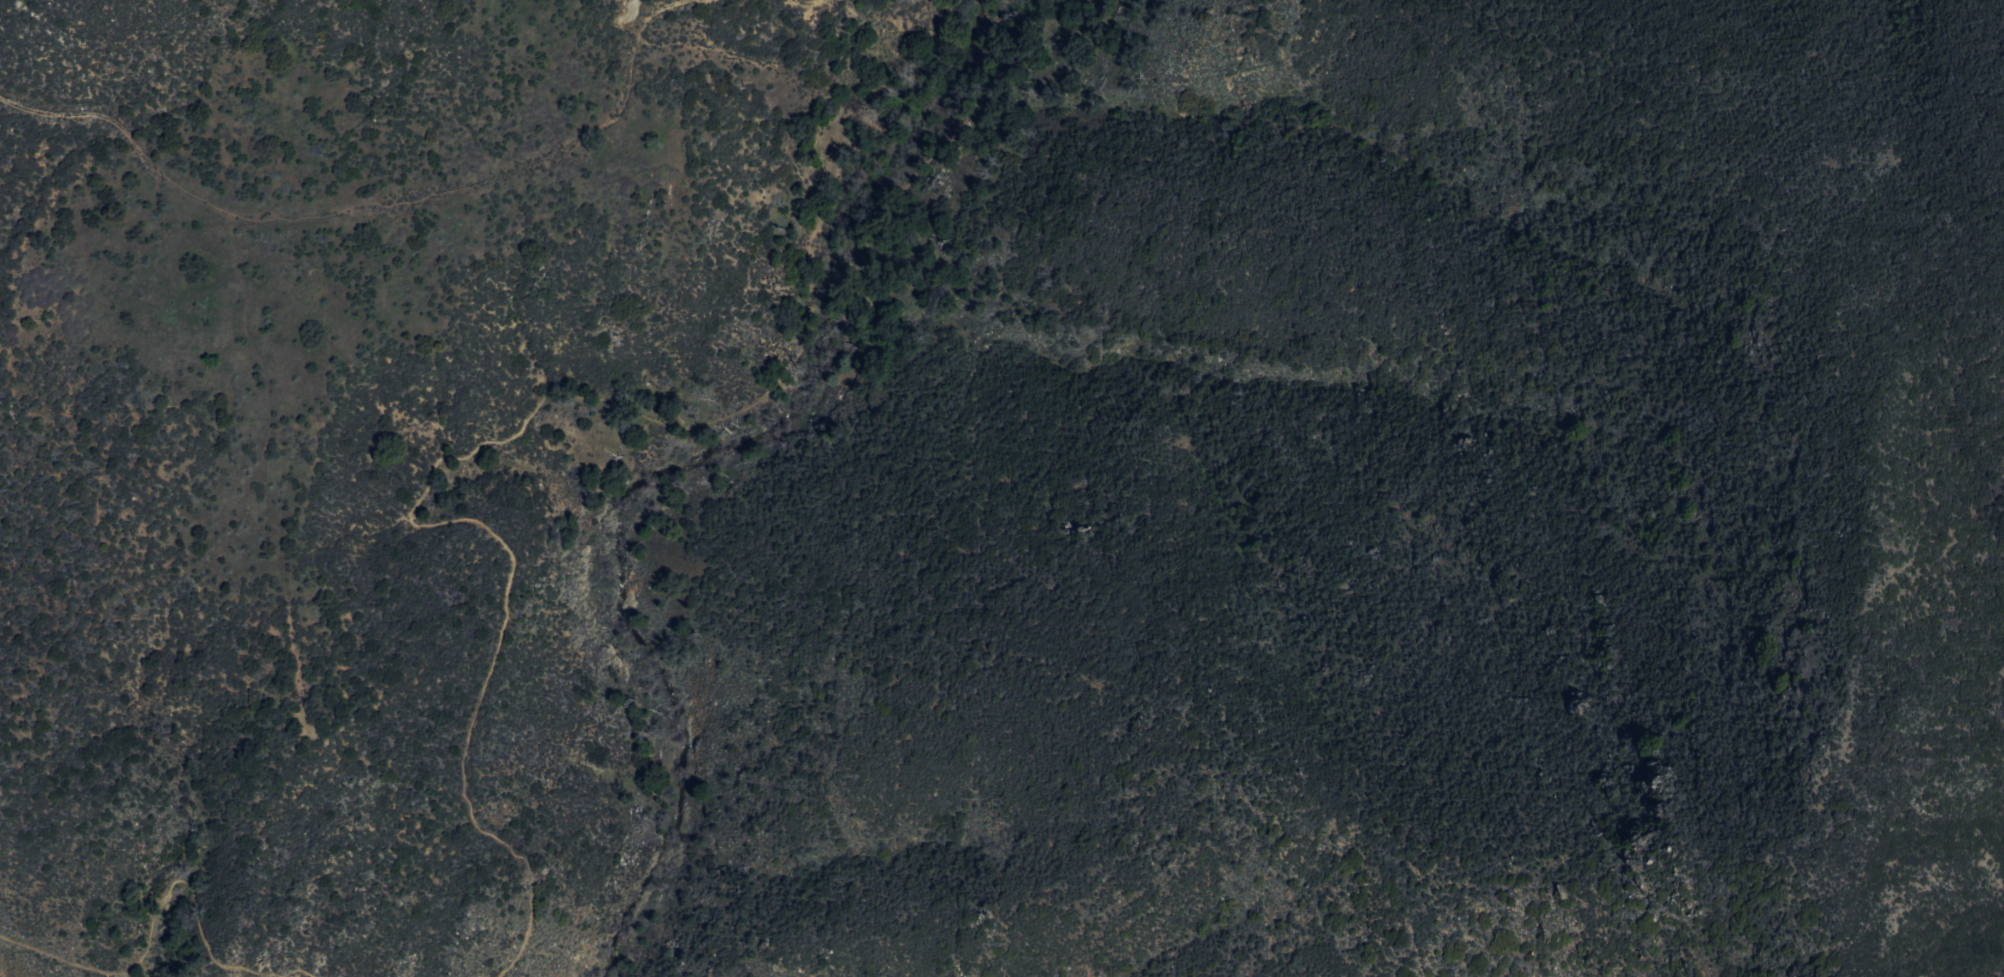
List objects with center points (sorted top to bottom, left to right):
road: (812, 3)
road: (790, 107)
road: (373, 206)
road: (846, 267)
road: (503, 616)
road: (161, 896)

